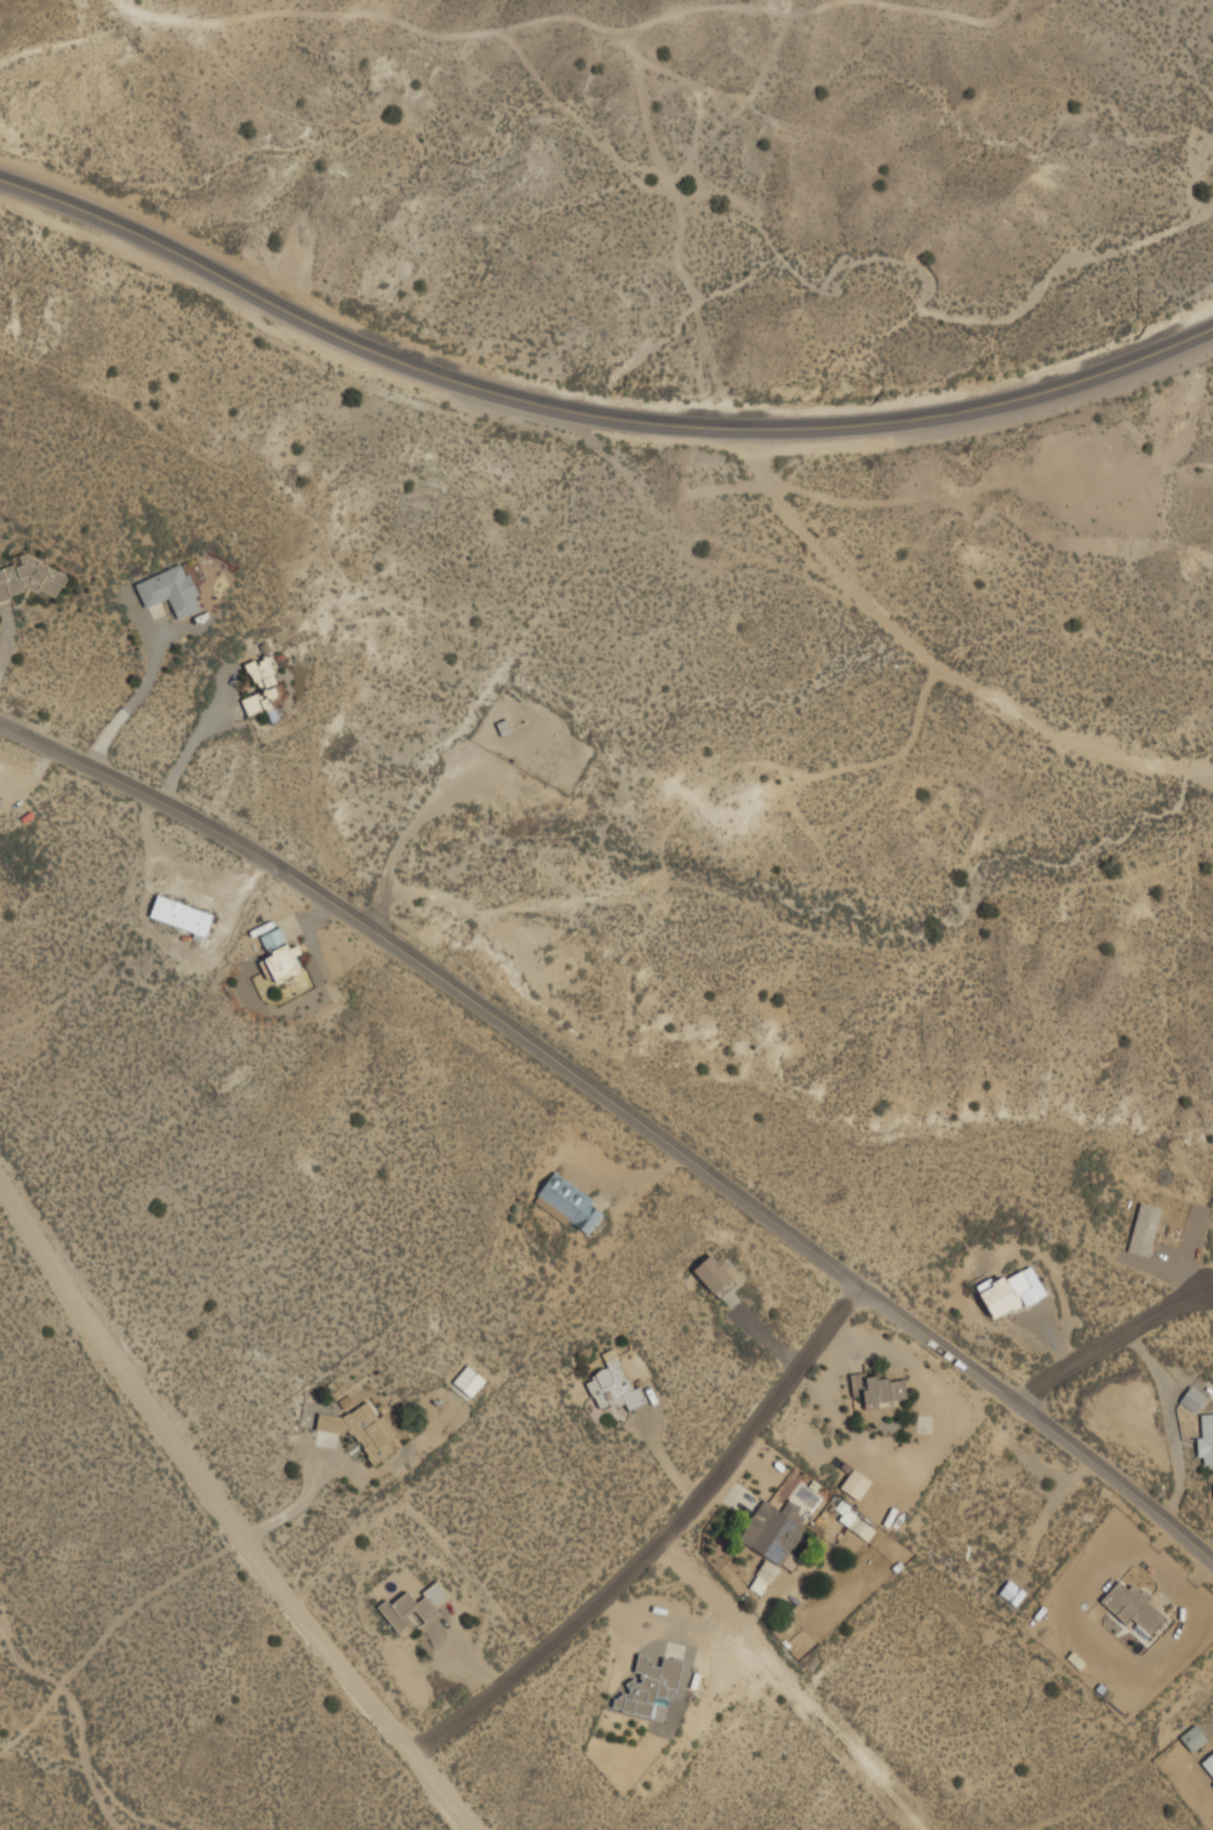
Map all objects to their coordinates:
road: (591, 413)
building: (27, 578)
building: (171, 590)
road: (932, 663)
building: (261, 667)
building: (265, 700)
building: (0, 800)
building: (0, 802)
building: (181, 915)
building: (280, 955)
road: (625, 1113)
building: (571, 1203)
building: (1145, 1228)
building: (714, 1273)
building: (1012, 1289)
road: (1114, 1337)
building: (469, 1380)
building: (613, 1383)
building: (881, 1388)
building: (1192, 1396)
building: (366, 1428)
building: (1206, 1437)
building: (856, 1482)
road: (225, 1514)
building: (856, 1520)
building: (774, 1539)
road: (662, 1545)
road: (1211, 1555)
building: (1013, 1590)
building: (1133, 1605)
building: (413, 1608)
building: (650, 1685)
road: (794, 1686)
building: (1194, 1737)
building: (1208, 1762)

